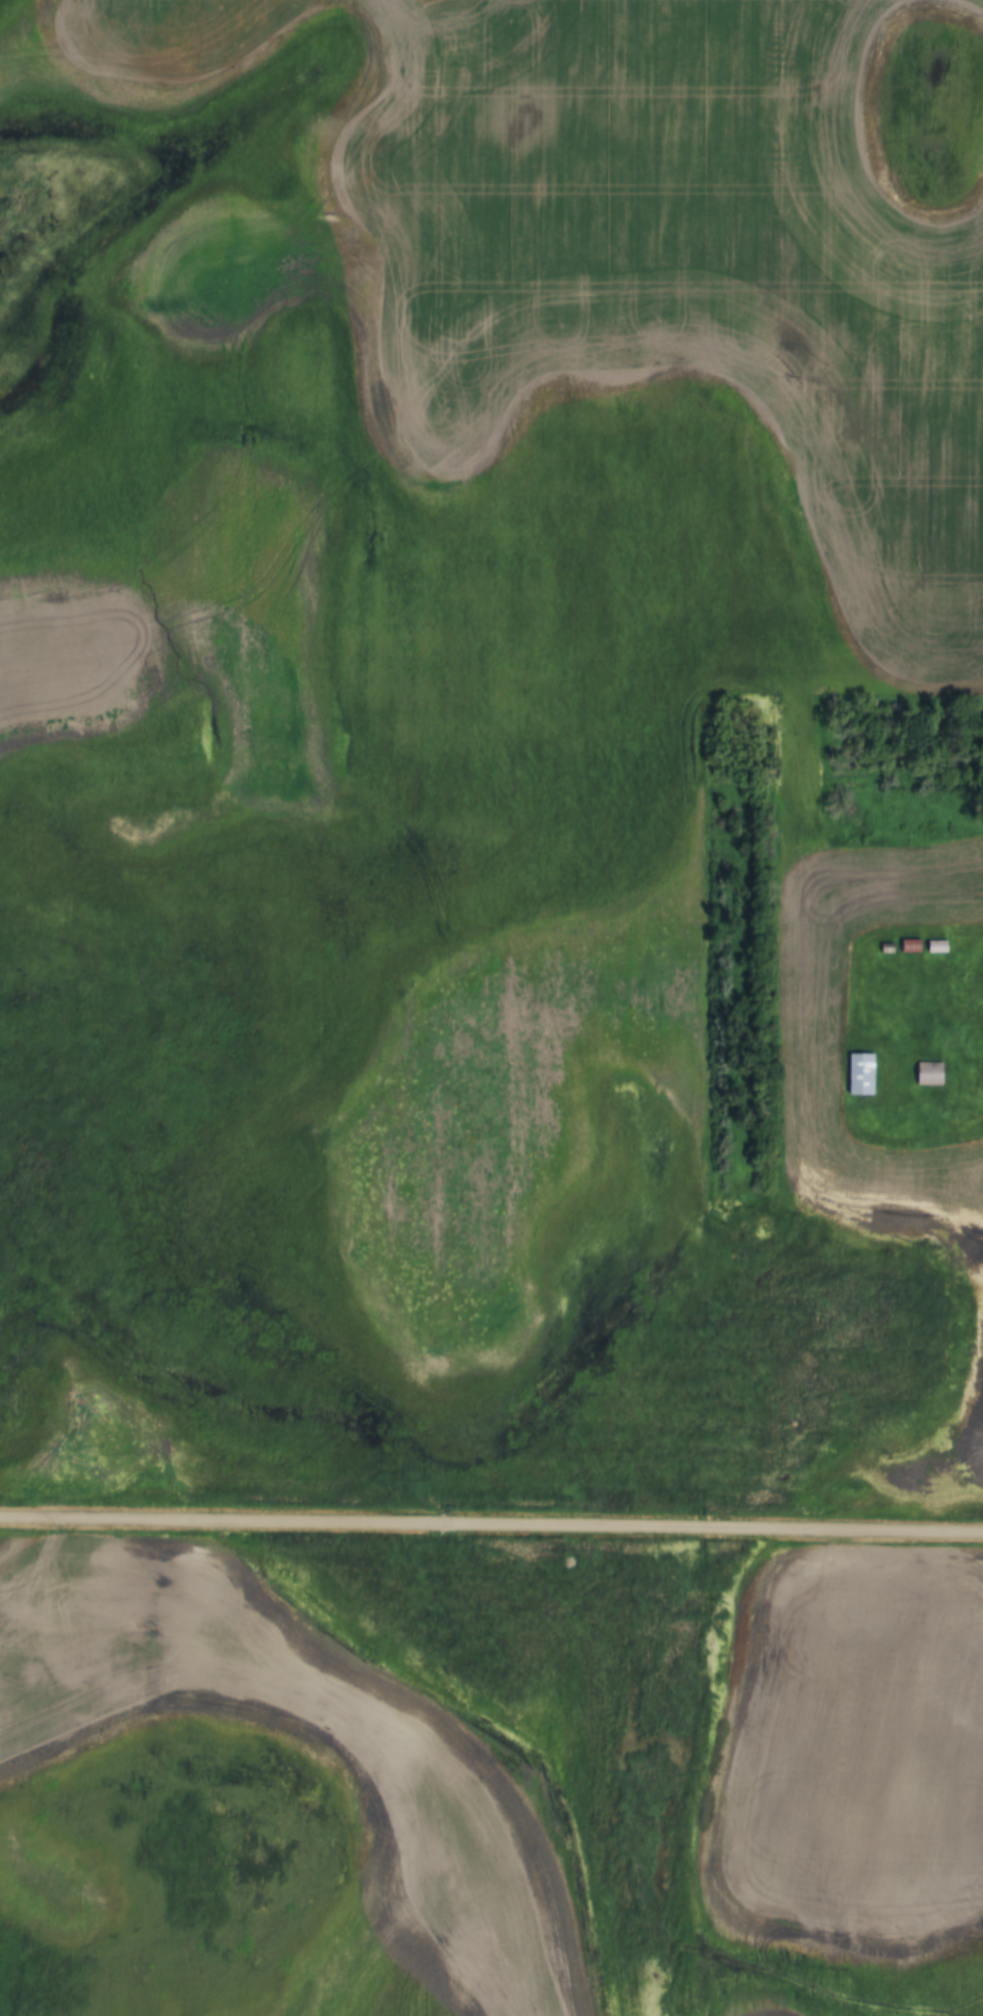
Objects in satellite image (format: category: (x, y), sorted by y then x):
building: (911, 948)
building: (937, 949)
building: (862, 1075)
building: (930, 1075)
road: (491, 1522)

